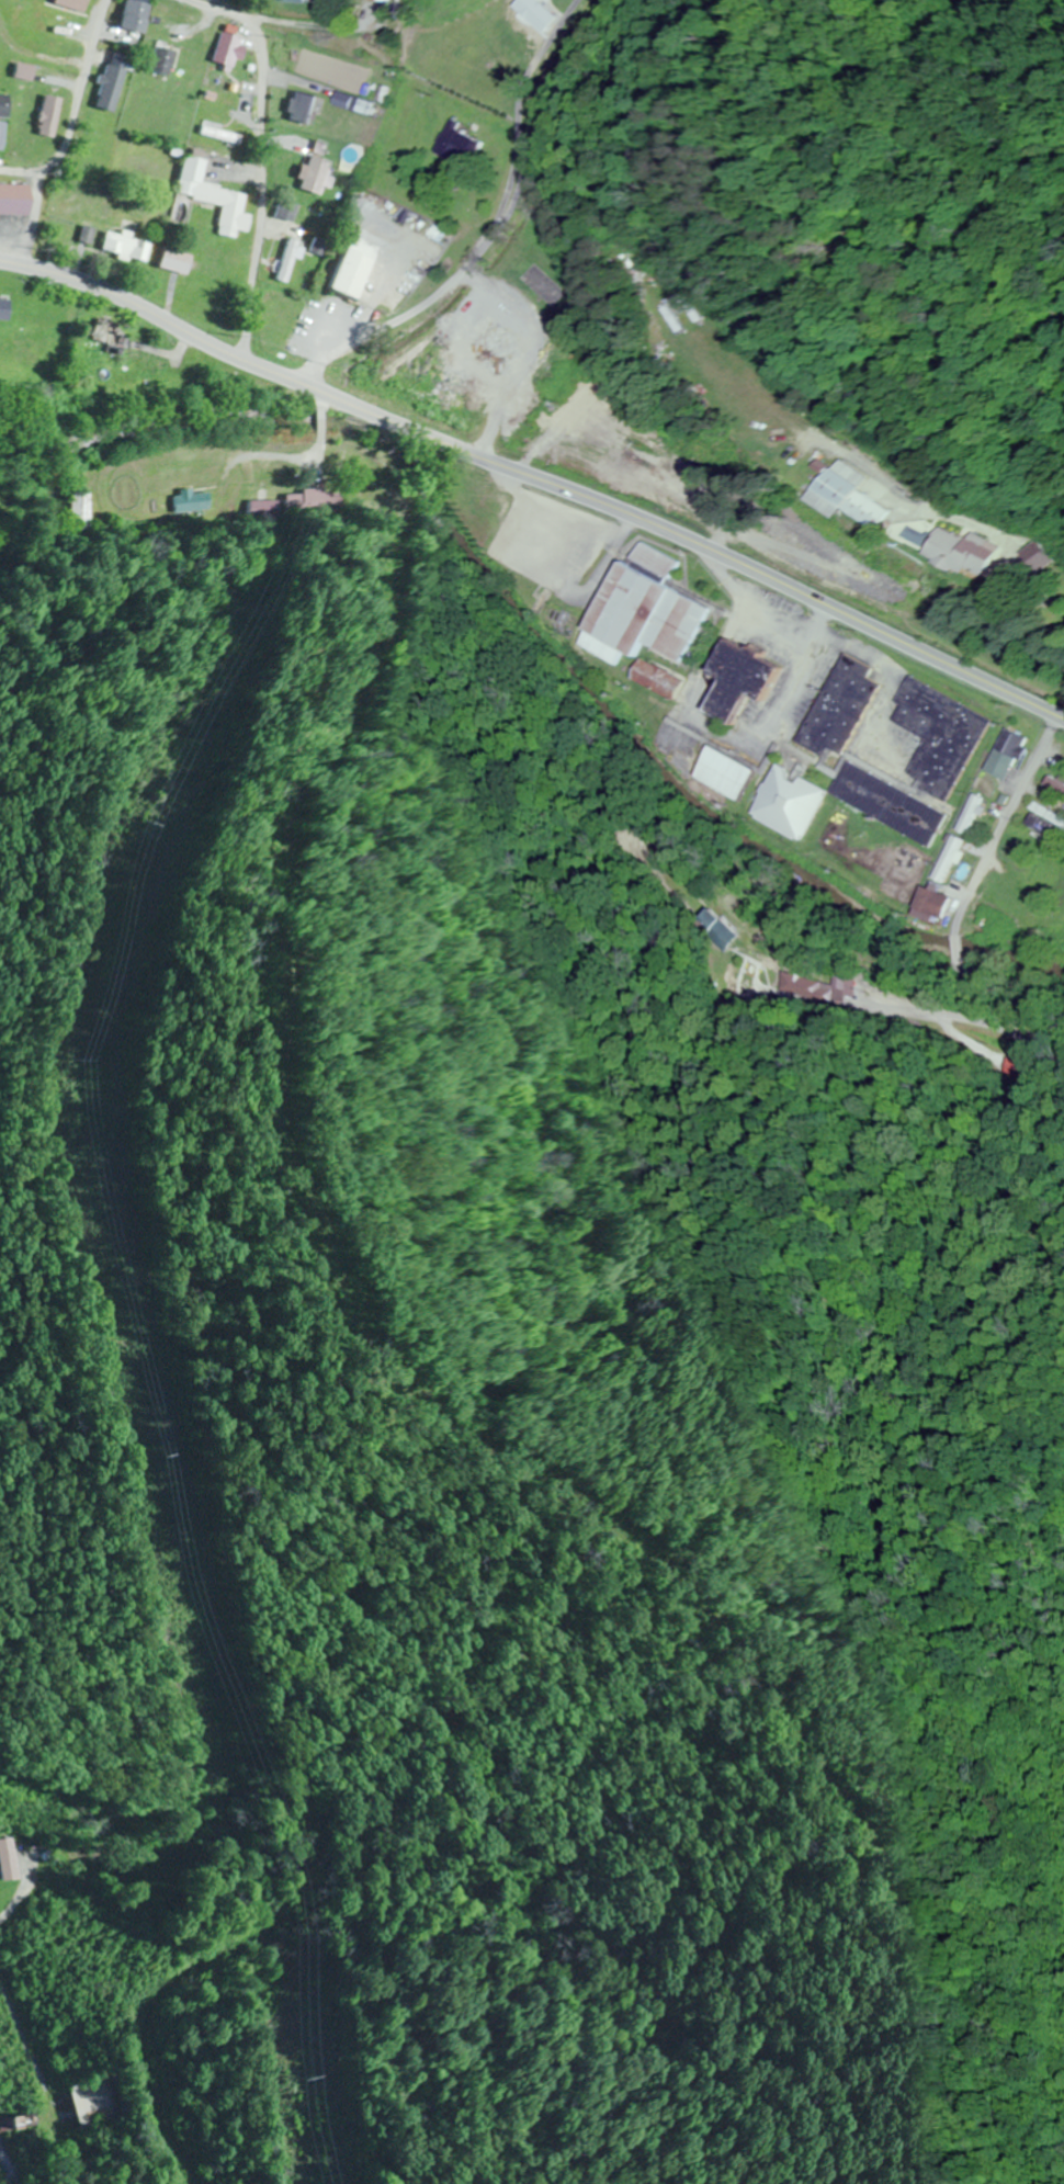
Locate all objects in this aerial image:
building: (386, 0)
building: (295, 1)
park: (242, 3)
building: (76, 4)
building: (137, 16)
building: (536, 16)
road: (321, 25)
building: (230, 49)
building: (165, 61)
building: (27, 72)
building: (112, 88)
road: (519, 101)
building: (355, 103)
building: (4, 106)
building: (304, 107)
road: (79, 114)
building: (52, 117)
building: (2, 136)
building: (455, 140)
road: (265, 151)
building: (327, 180)
building: (215, 197)
building: (15, 200)
building: (287, 212)
building: (87, 237)
building: (126, 247)
building: (177, 262)
building: (352, 275)
building: (4, 309)
road: (410, 313)
building: (112, 339)
building: (826, 467)
road: (857, 476)
road: (535, 479)
building: (857, 495)
building: (495, 505)
building: (76, 510)
road: (942, 514)
building: (964, 553)
building: (649, 611)
building: (663, 680)
building: (751, 680)
building: (842, 708)
building: (1009, 754)
building: (920, 765)
building: (728, 773)
building: (792, 797)
building: (972, 814)
building: (1046, 819)
road: (1000, 824)
building: (950, 859)
building: (938, 905)
building: (9, 1860)
building: (84, 2104)
building: (0, 2126)

